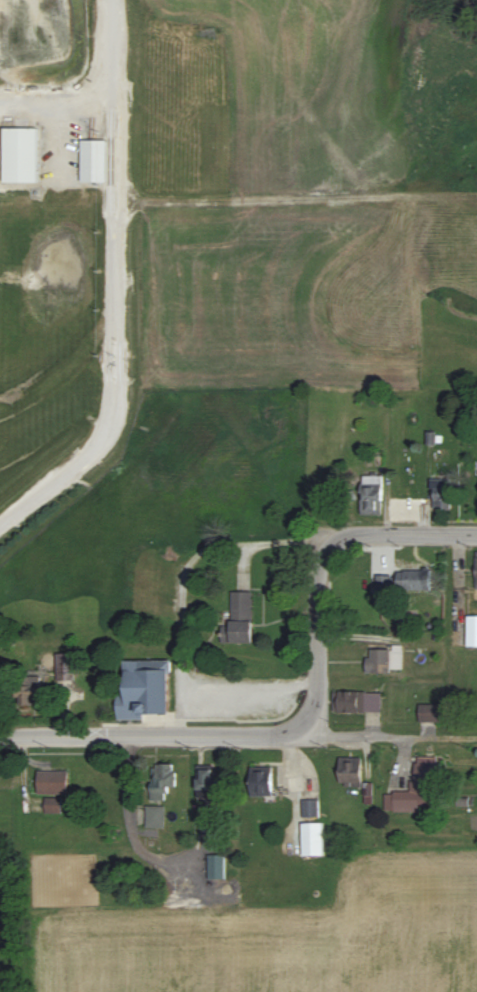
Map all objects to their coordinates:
building: (19, 154)
building: (92, 161)
road: (111, 286)
building: (370, 494)
building: (441, 494)
road: (405, 536)
road: (182, 573)
building: (475, 574)
building: (402, 581)
building: (238, 619)
building: (471, 631)
road: (317, 636)
building: (383, 660)
building: (65, 666)
building: (145, 690)
building: (28, 691)
building: (356, 702)
building: (429, 713)
road: (158, 737)
road: (351, 737)
road: (421, 738)
building: (349, 771)
building: (164, 780)
building: (53, 782)
building: (207, 782)
building: (262, 782)
building: (415, 790)
building: (52, 805)
building: (309, 809)
building: (157, 816)
building: (312, 840)
road: (197, 841)
building: (218, 867)

